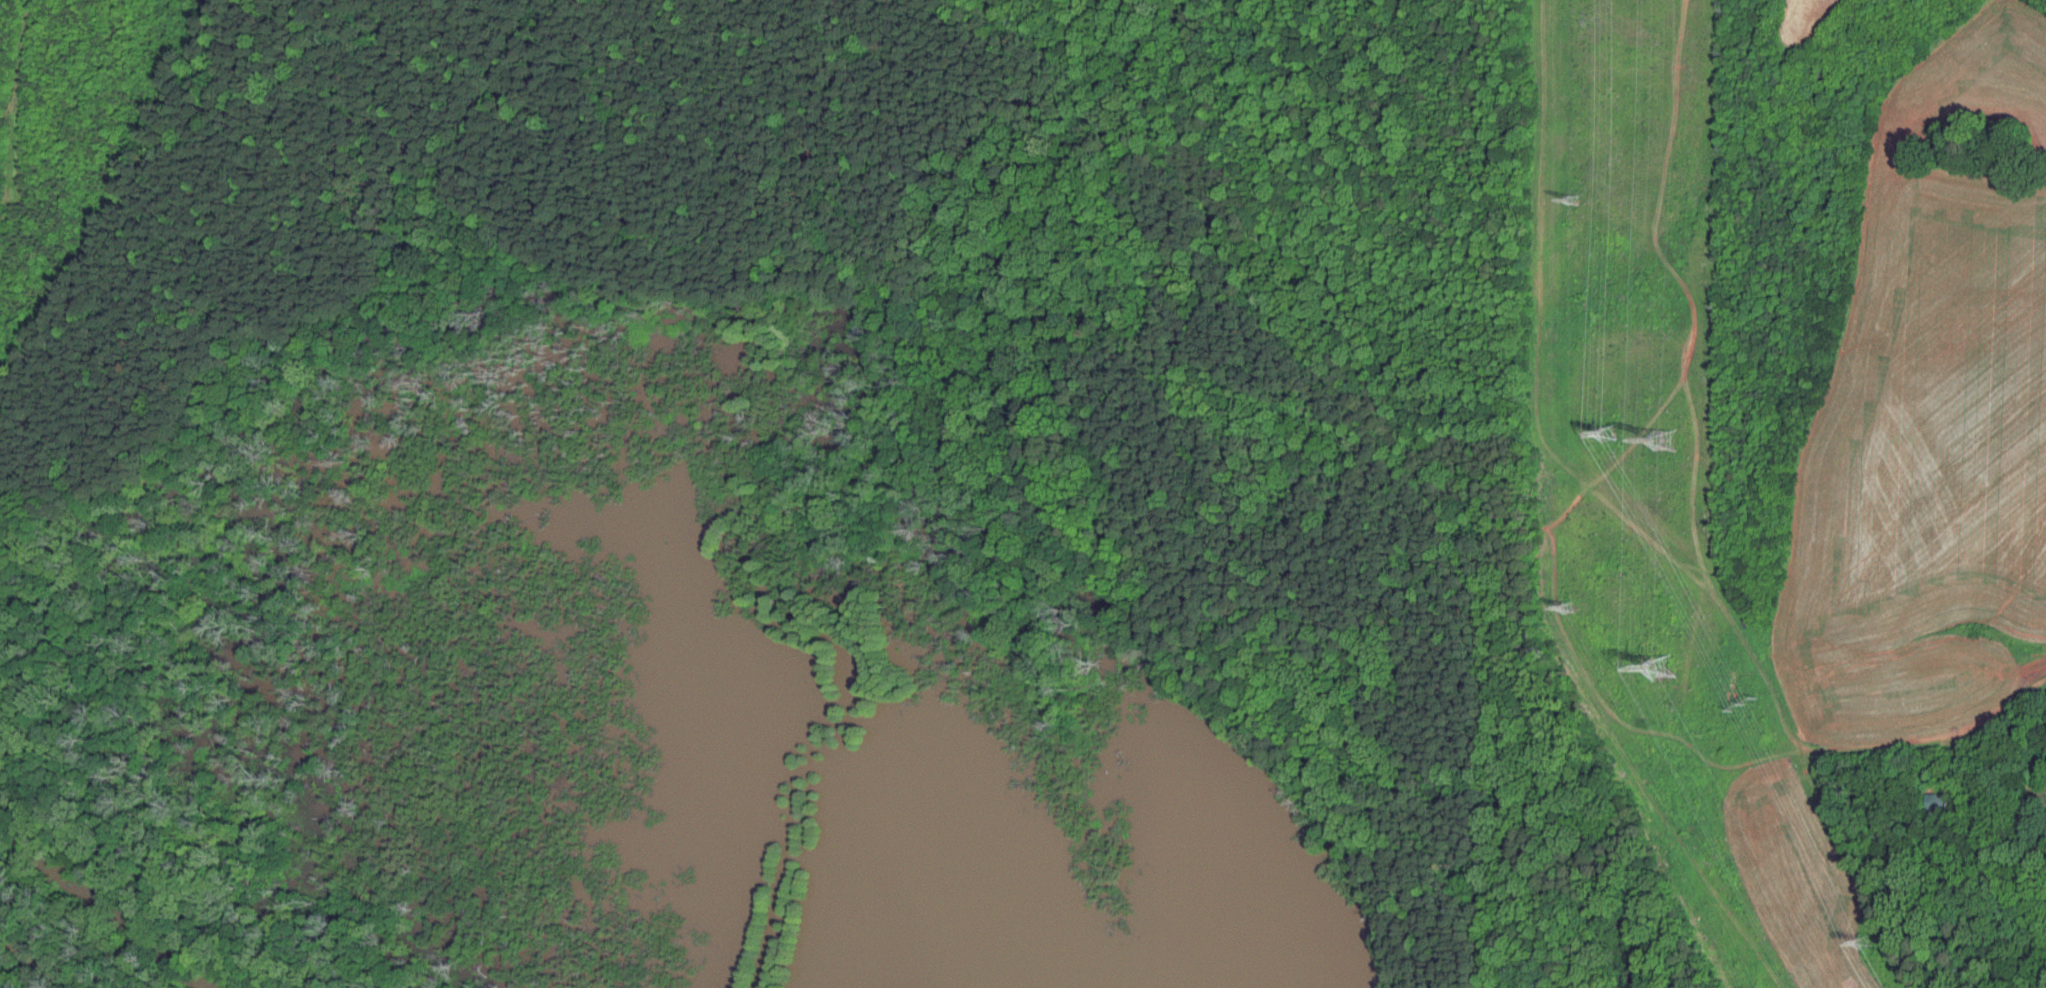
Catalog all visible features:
power tower: (1572, 200)
power tower: (1609, 434)
power tower: (1667, 436)
power tower: (1567, 608)
power tower: (1663, 664)
power tower: (1744, 705)
power tower: (1862, 943)

